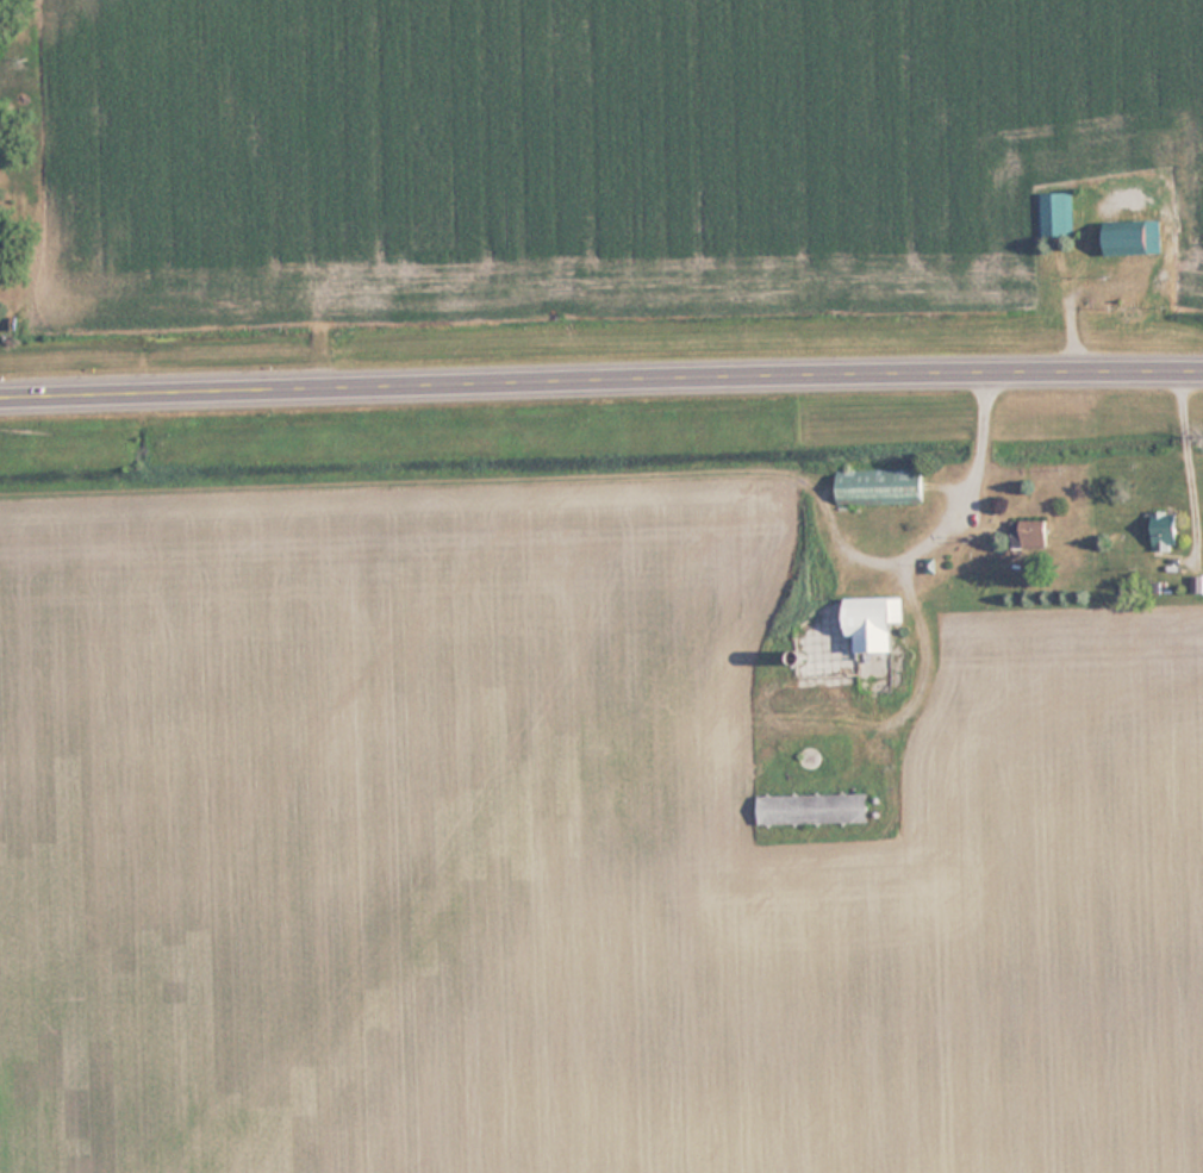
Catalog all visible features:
building: (1054, 213)
building: (1132, 237)
road: (600, 378)
building: (881, 486)
building: (1167, 532)
building: (1031, 534)
building: (877, 624)
building: (867, 679)
building: (815, 807)

